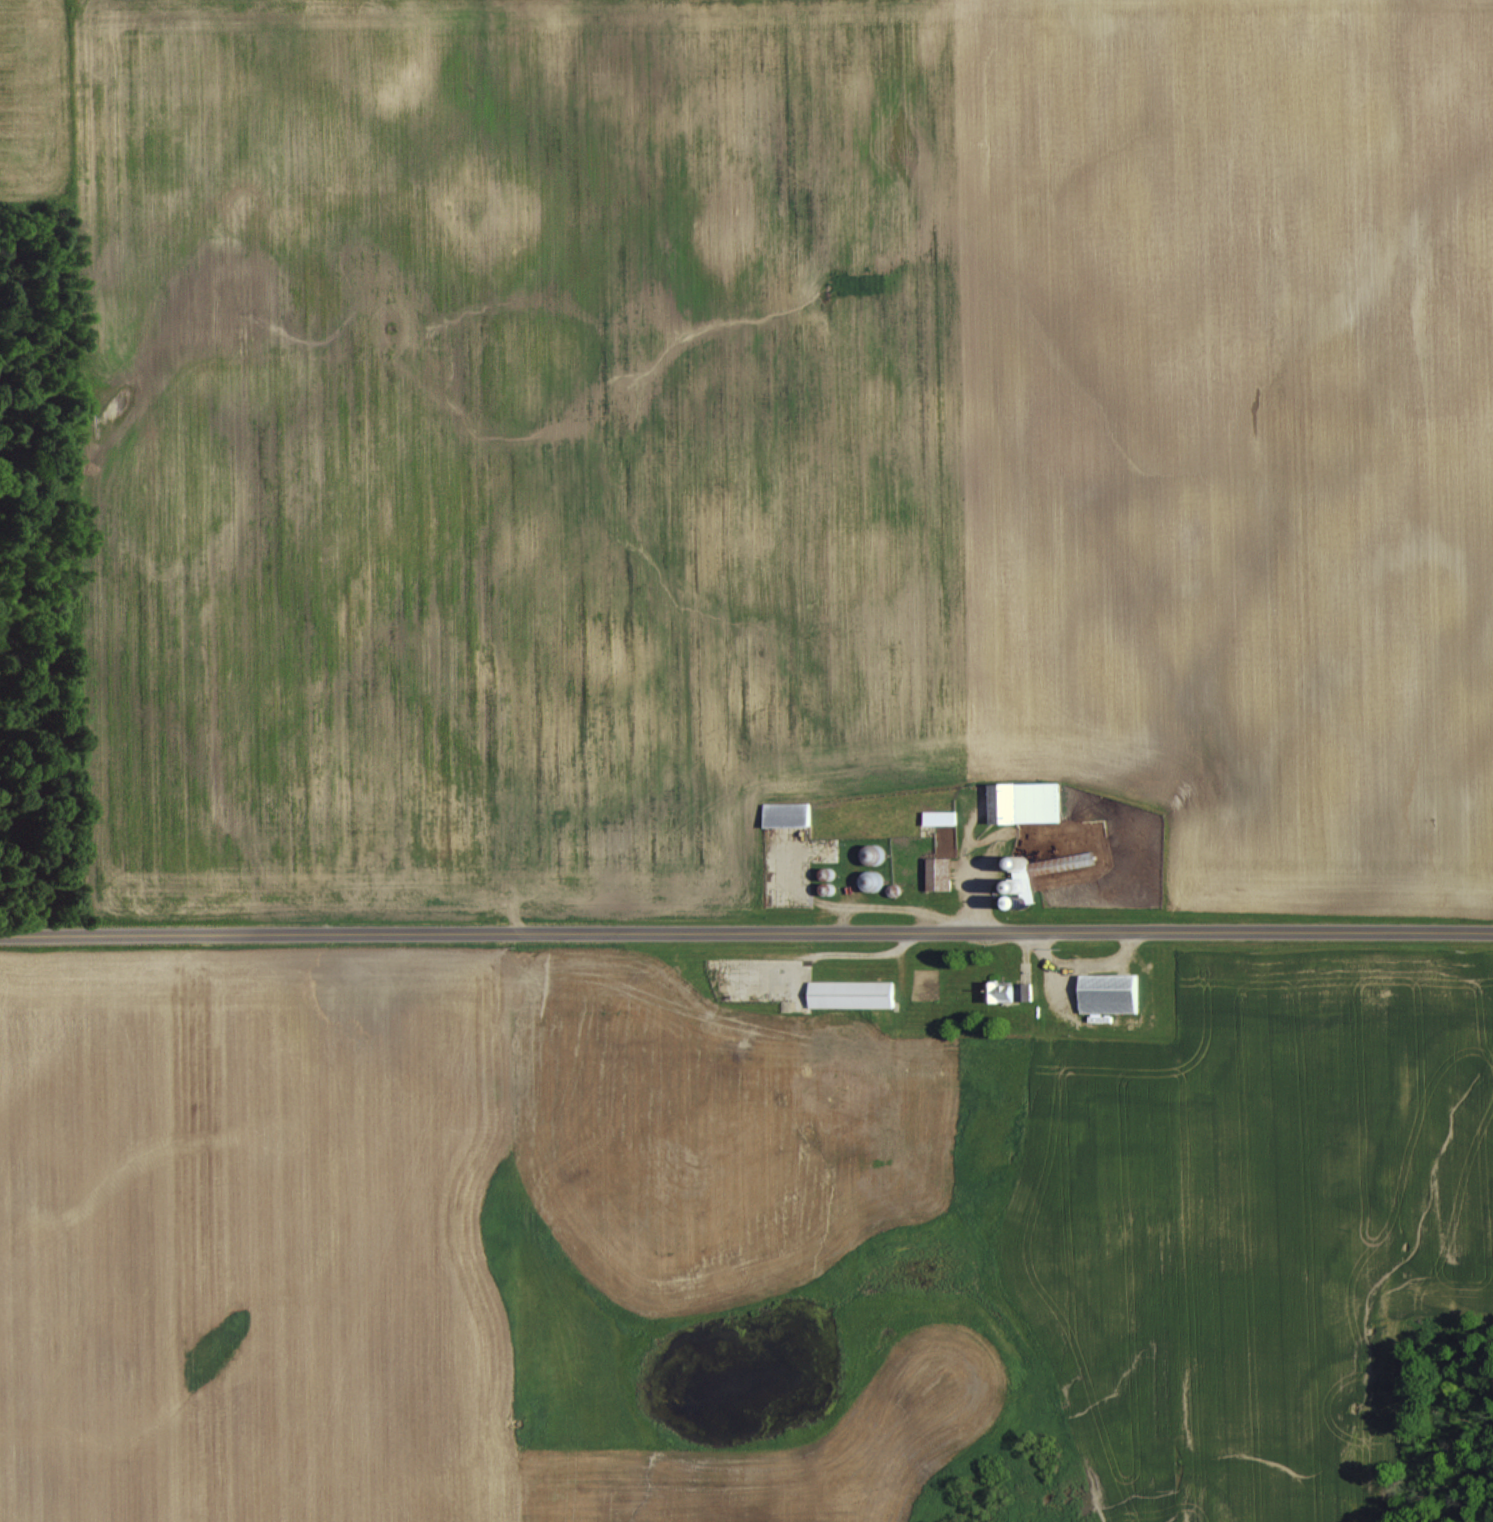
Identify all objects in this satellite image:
building: (1022, 801)
building: (785, 812)
building: (939, 816)
building: (1061, 862)
building: (938, 872)
road: (746, 932)
building: (999, 990)
building: (1024, 990)
building: (1107, 992)
building: (850, 993)

